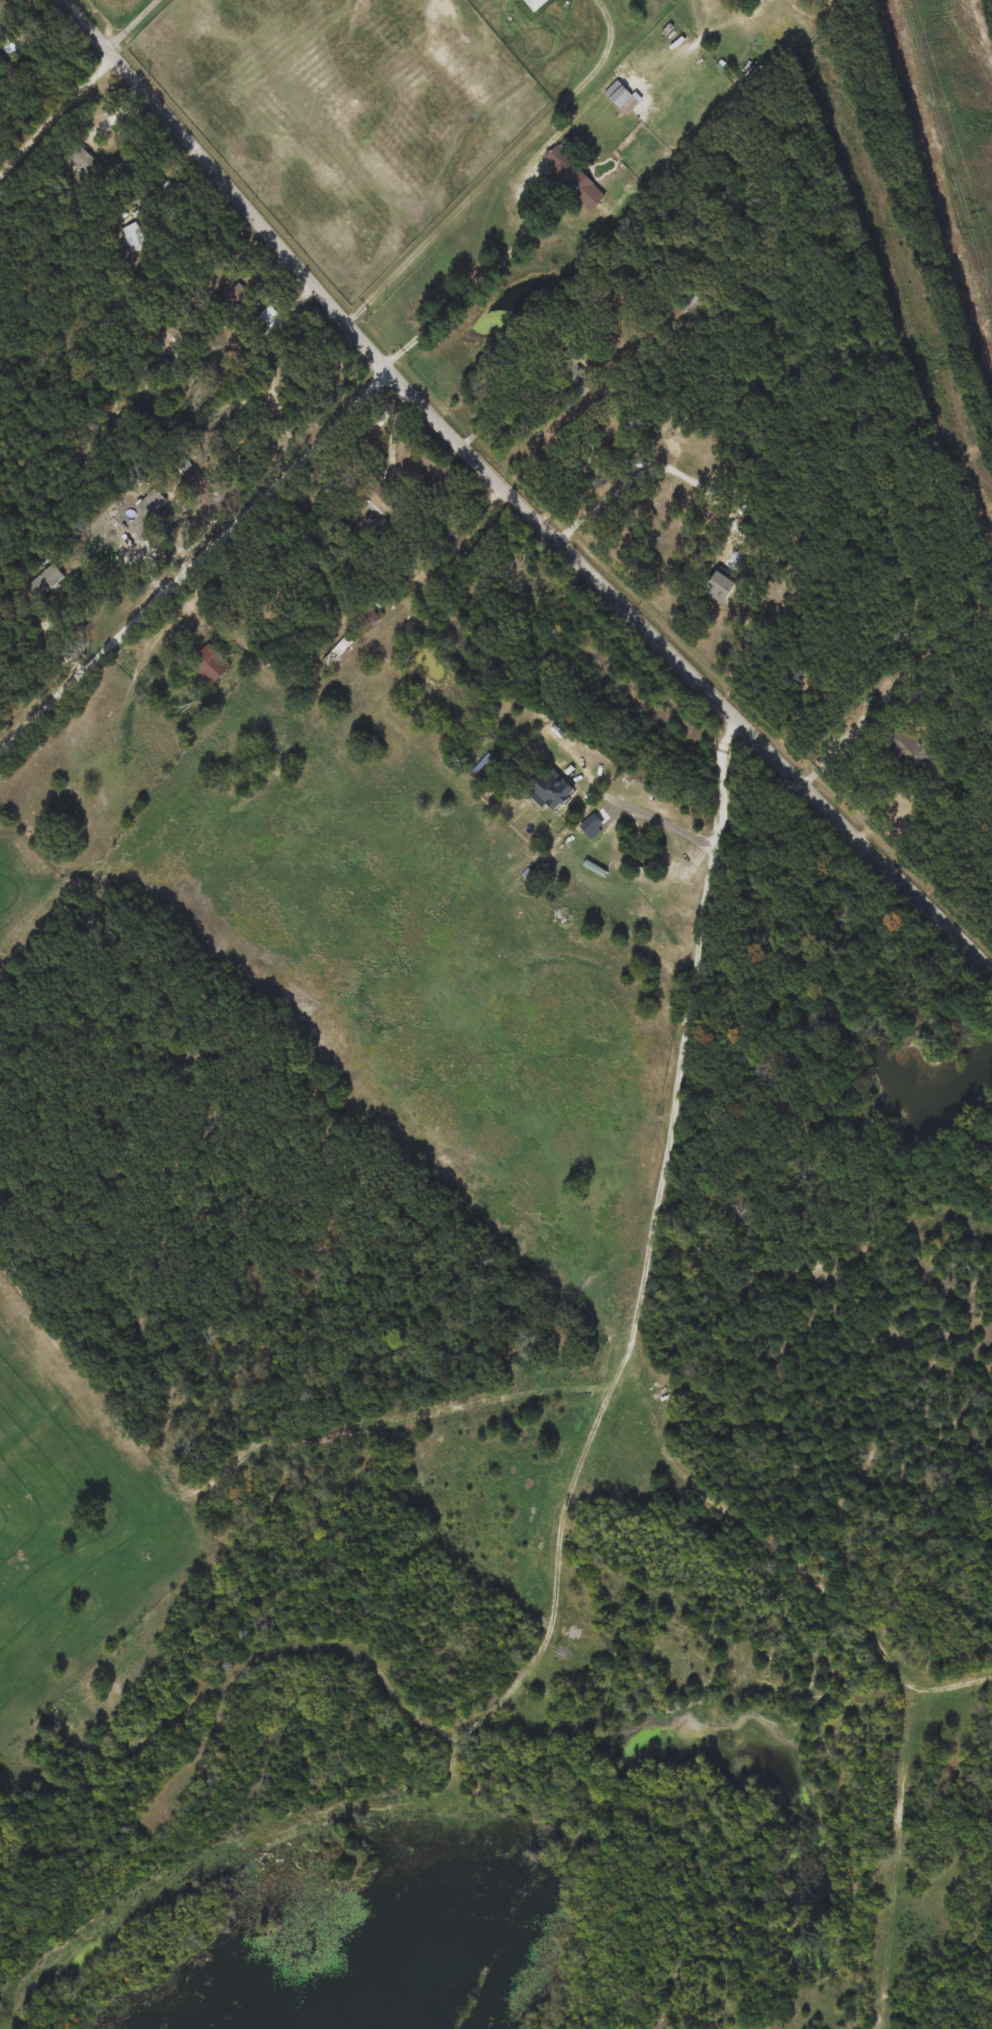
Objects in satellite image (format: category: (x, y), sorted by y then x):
building: (536, 4)
road: (139, 25)
building: (13, 46)
building: (3, 65)
building: (622, 98)
road: (58, 115)
building: (85, 164)
road: (501, 166)
building: (575, 178)
building: (133, 237)
road: (483, 273)
building: (243, 300)
building: (685, 304)
building: (268, 320)
building: (575, 371)
road: (395, 433)
road: (656, 466)
road: (516, 497)
building: (380, 500)
building: (151, 503)
road: (196, 558)
building: (45, 582)
building: (718, 588)
building: (369, 615)
building: (339, 652)
building: (210, 664)
building: (912, 749)
building: (552, 789)
road: (727, 822)

